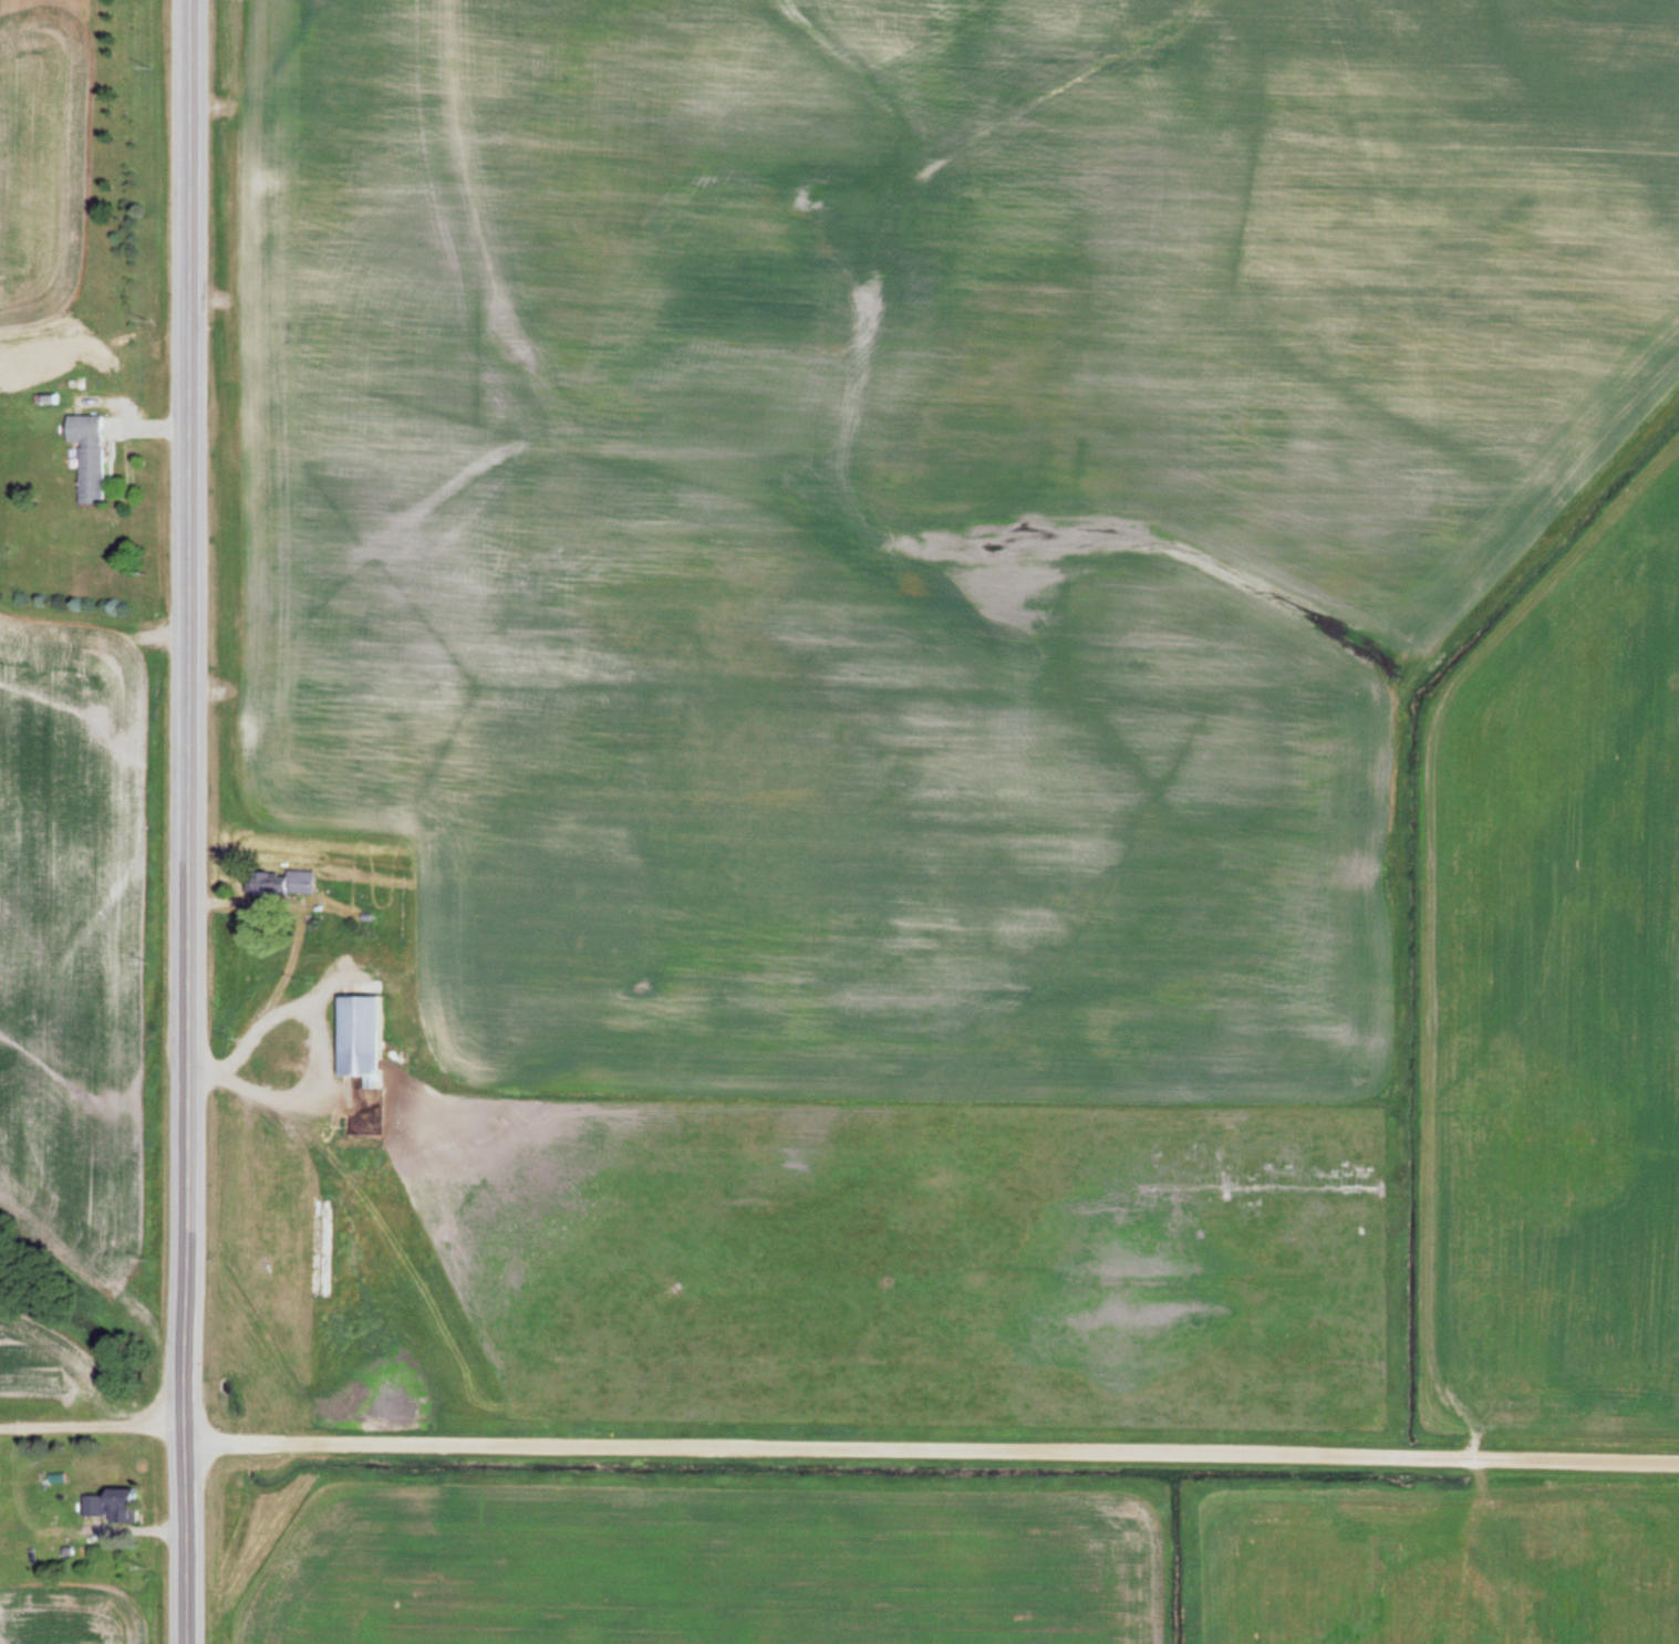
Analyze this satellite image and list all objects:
building: (87, 456)
road: (187, 822)
building: (299, 882)
building: (357, 1039)
building: (269, 1065)
building: (311, 1113)
road: (932, 1449)
building: (110, 1507)

